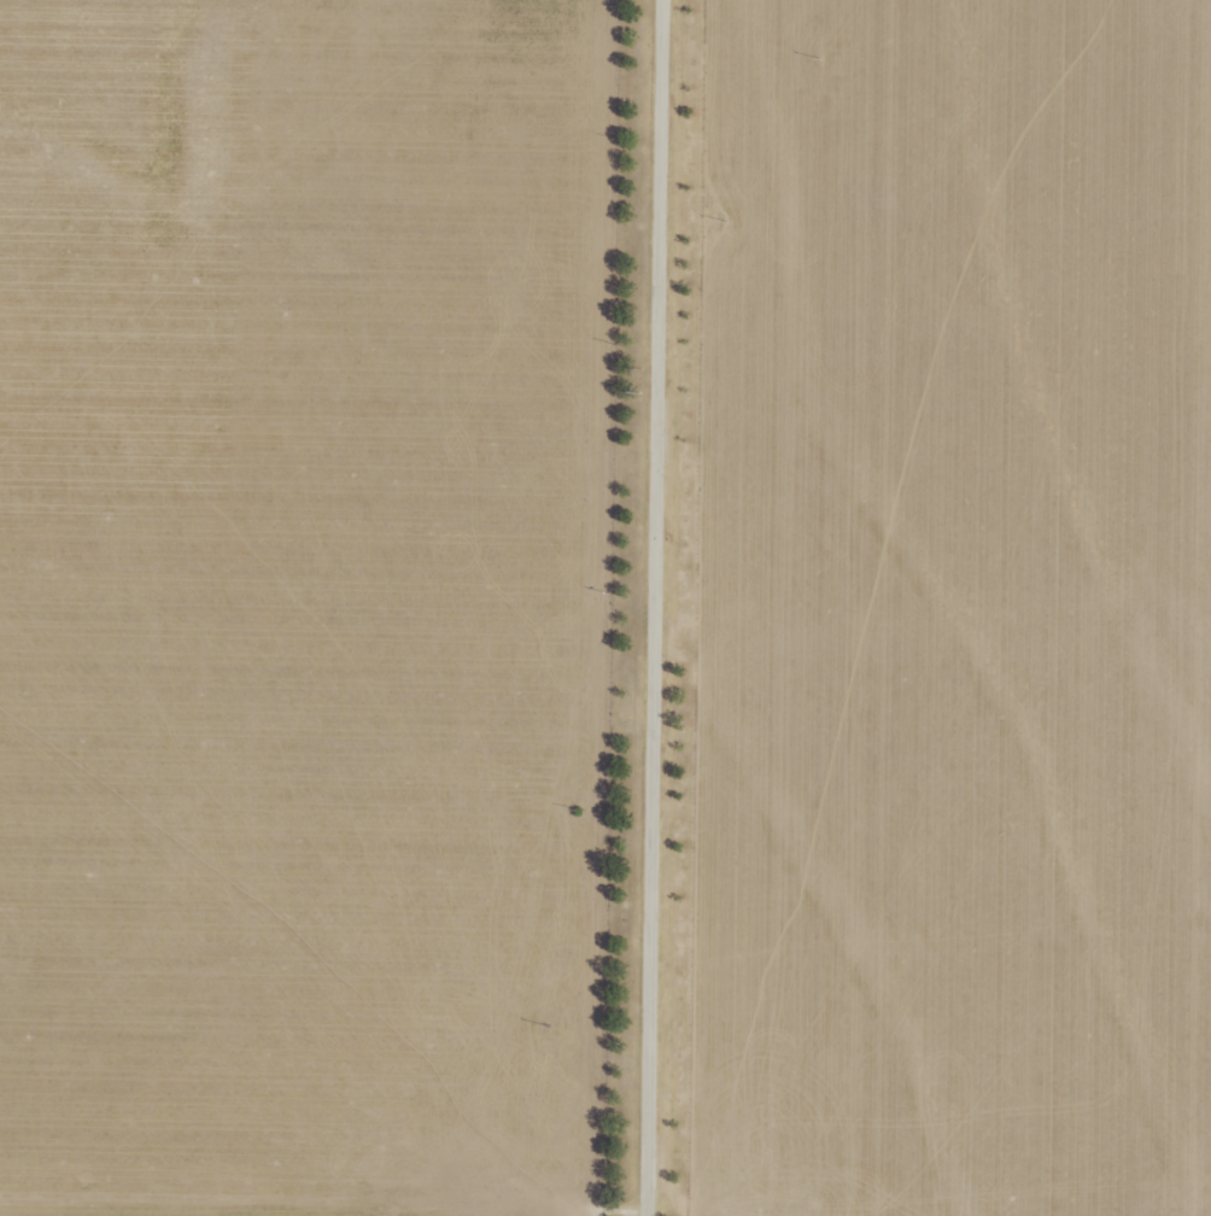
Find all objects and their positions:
road: (659, 608)

